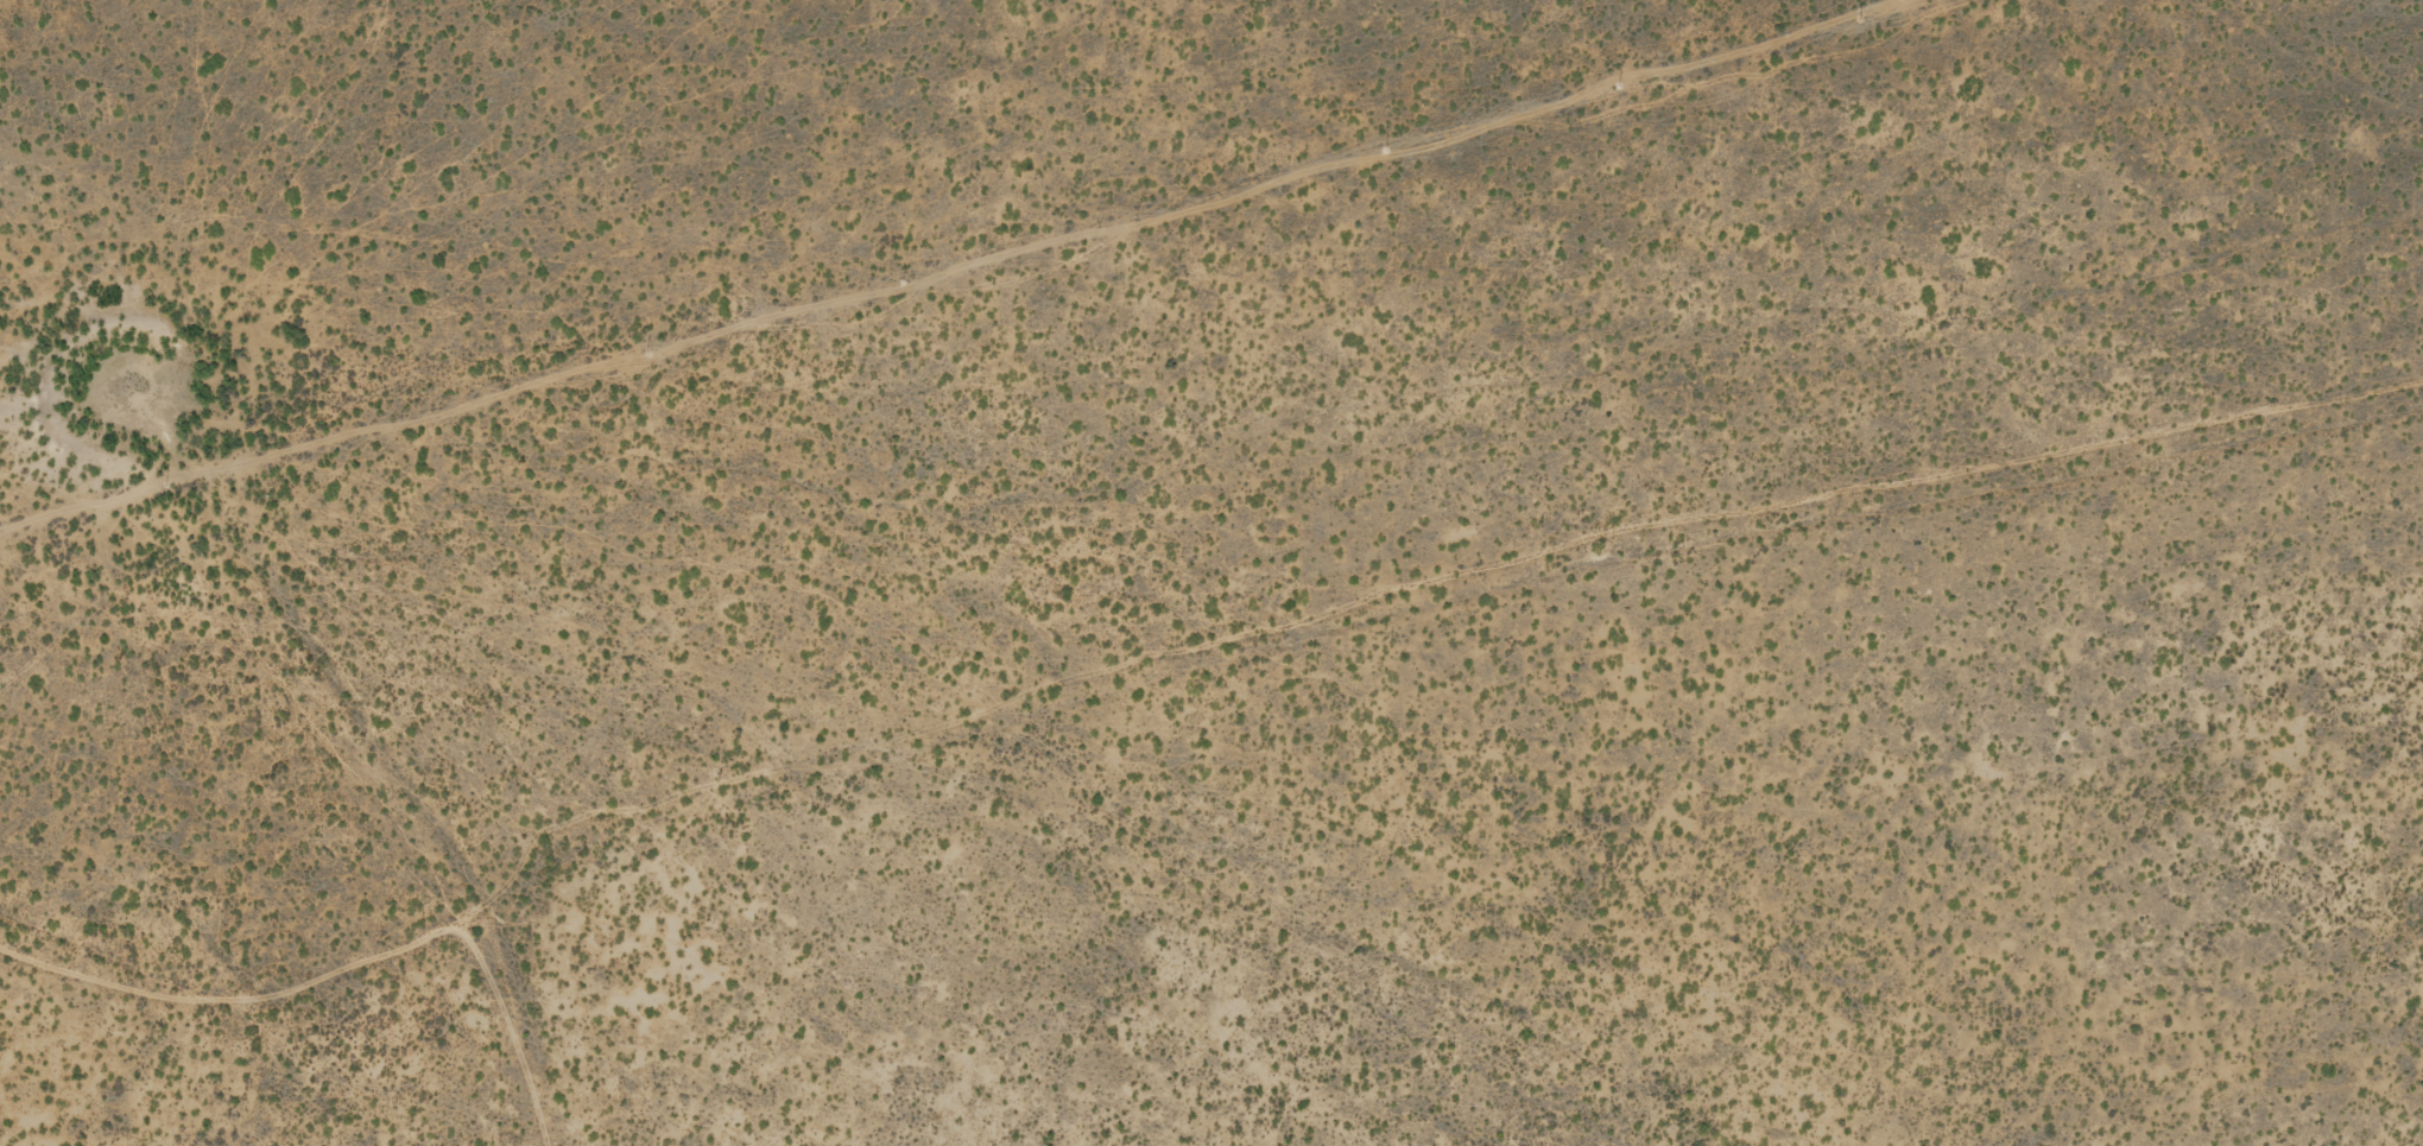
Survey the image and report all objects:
road: (1182, 653)

